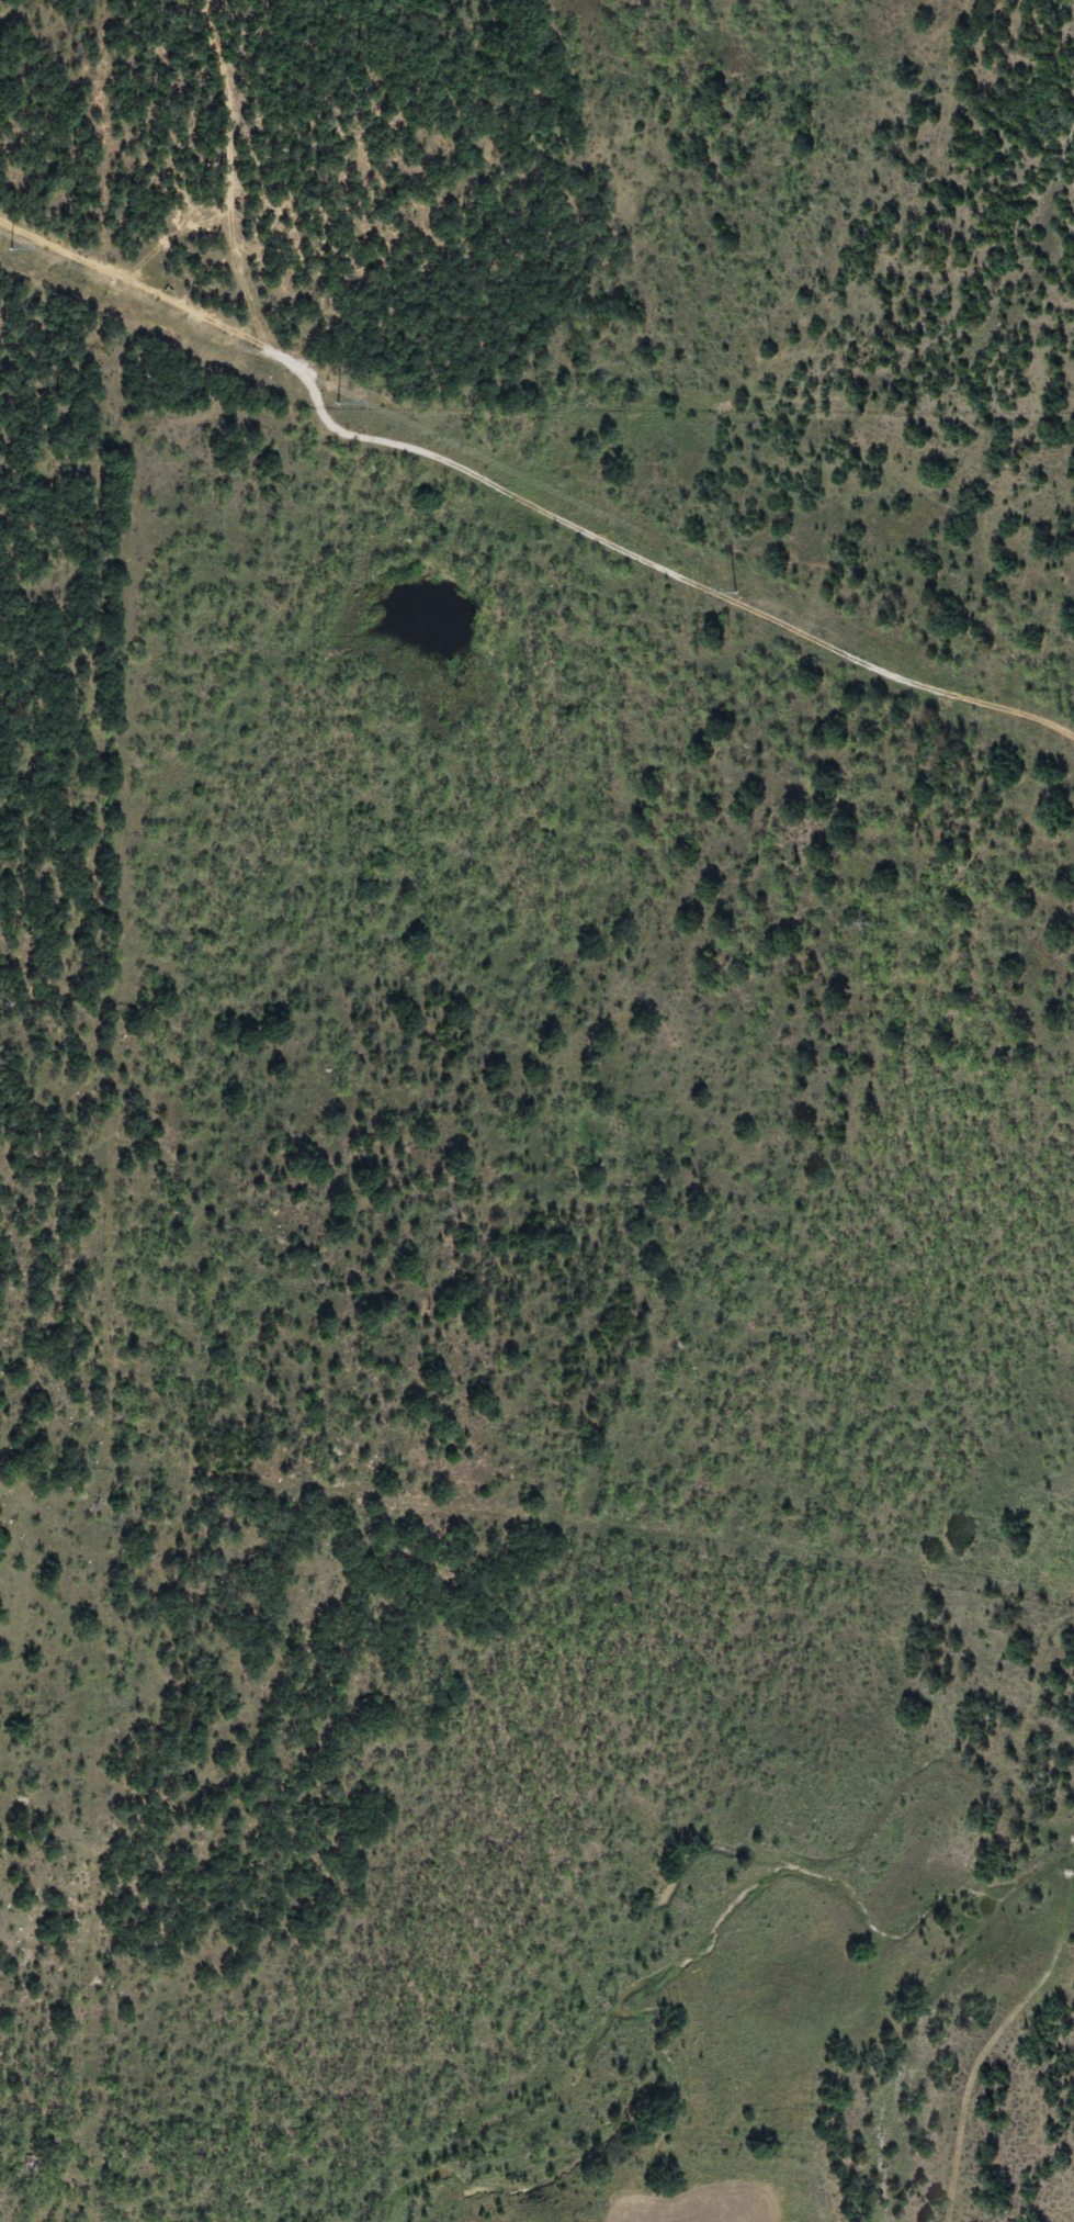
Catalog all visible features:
road: (540, 526)
road: (1003, 2033)

